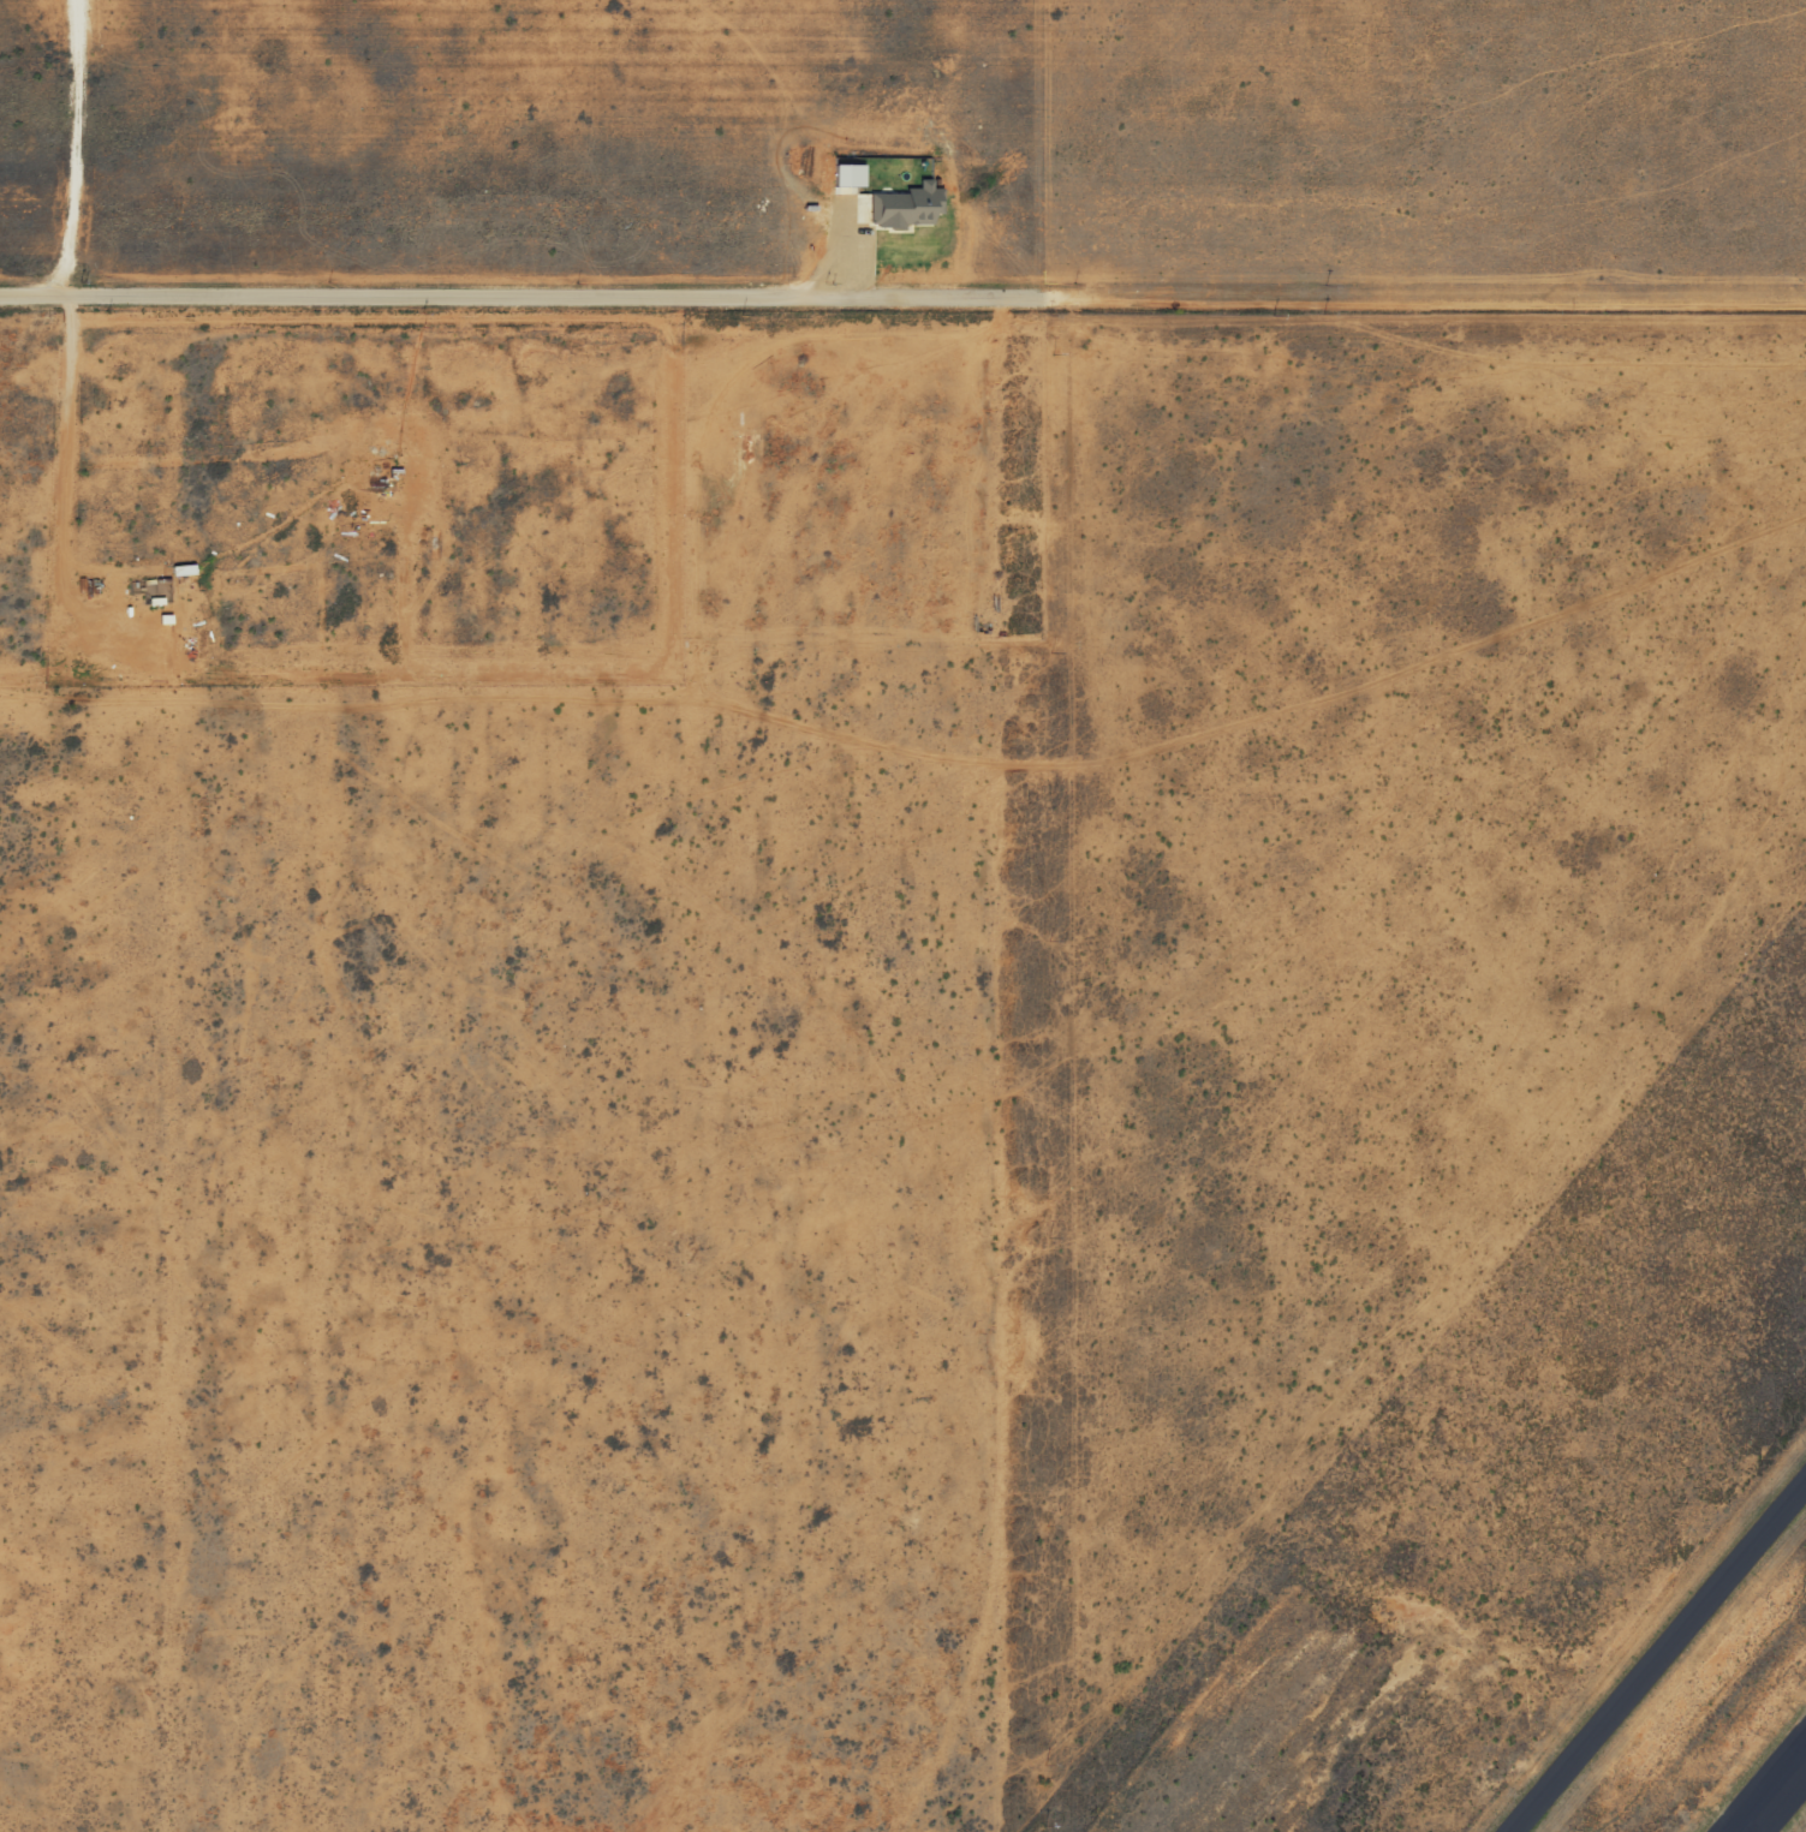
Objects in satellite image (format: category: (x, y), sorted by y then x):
airport: (1438, 1075)
airport taxiway: (1662, 1660)
airport runway: (1775, 1795)

